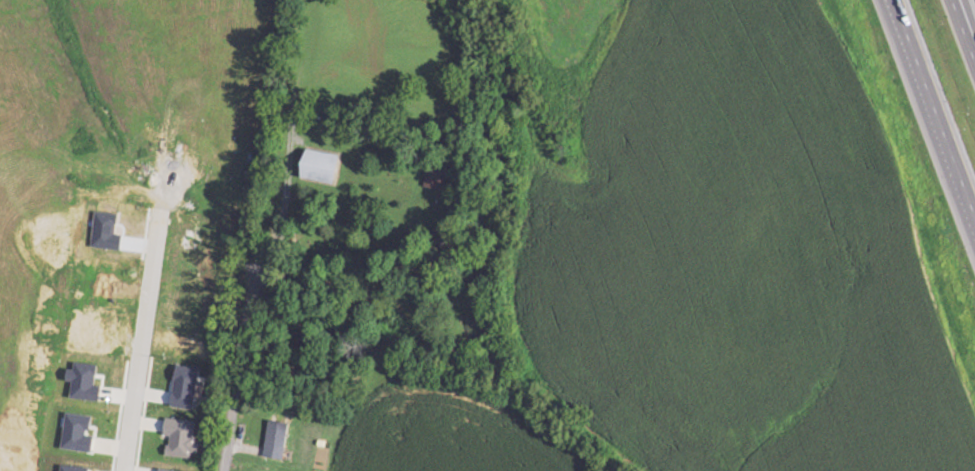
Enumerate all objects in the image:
road: (962, 32)
road: (934, 107)
building: (325, 165)
building: (435, 178)
road: (222, 419)
building: (278, 439)

